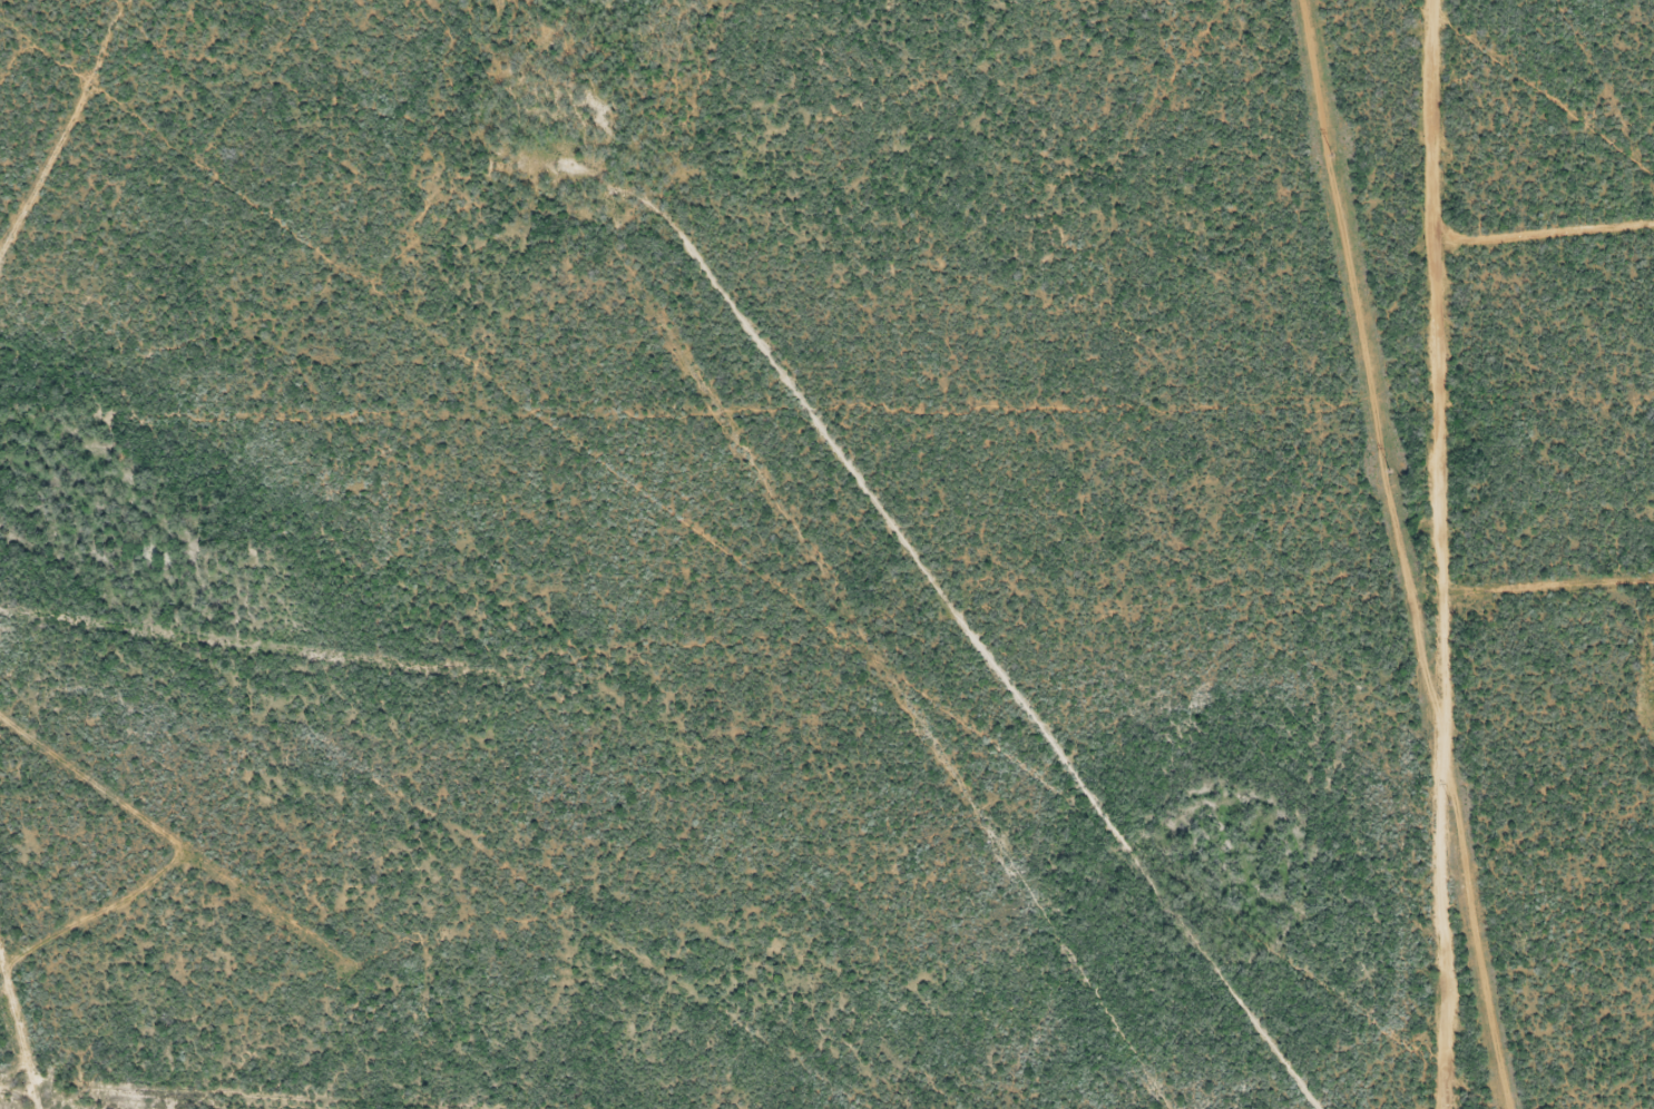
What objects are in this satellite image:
power tower: (1332, 154)
power tower: (1389, 469)
road: (1481, 554)
power tower: (1449, 802)

